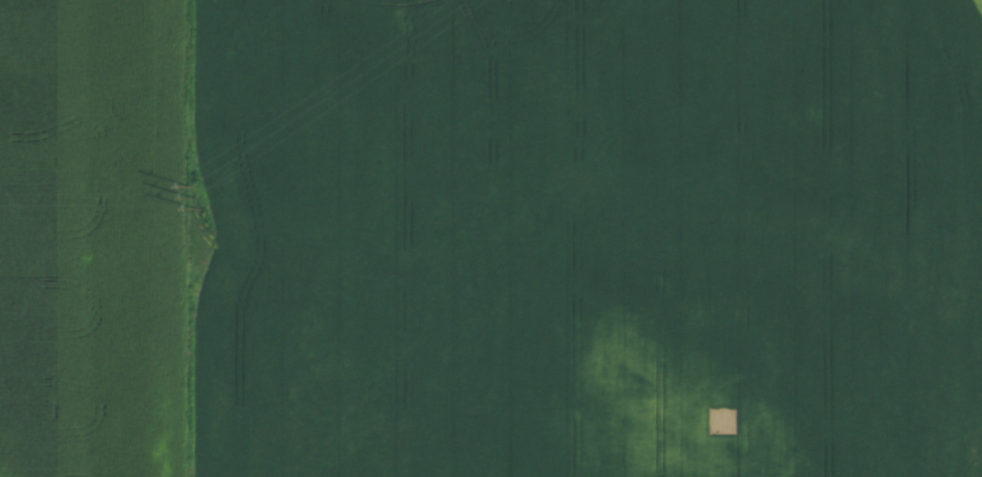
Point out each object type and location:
power tower: (200, 197)

